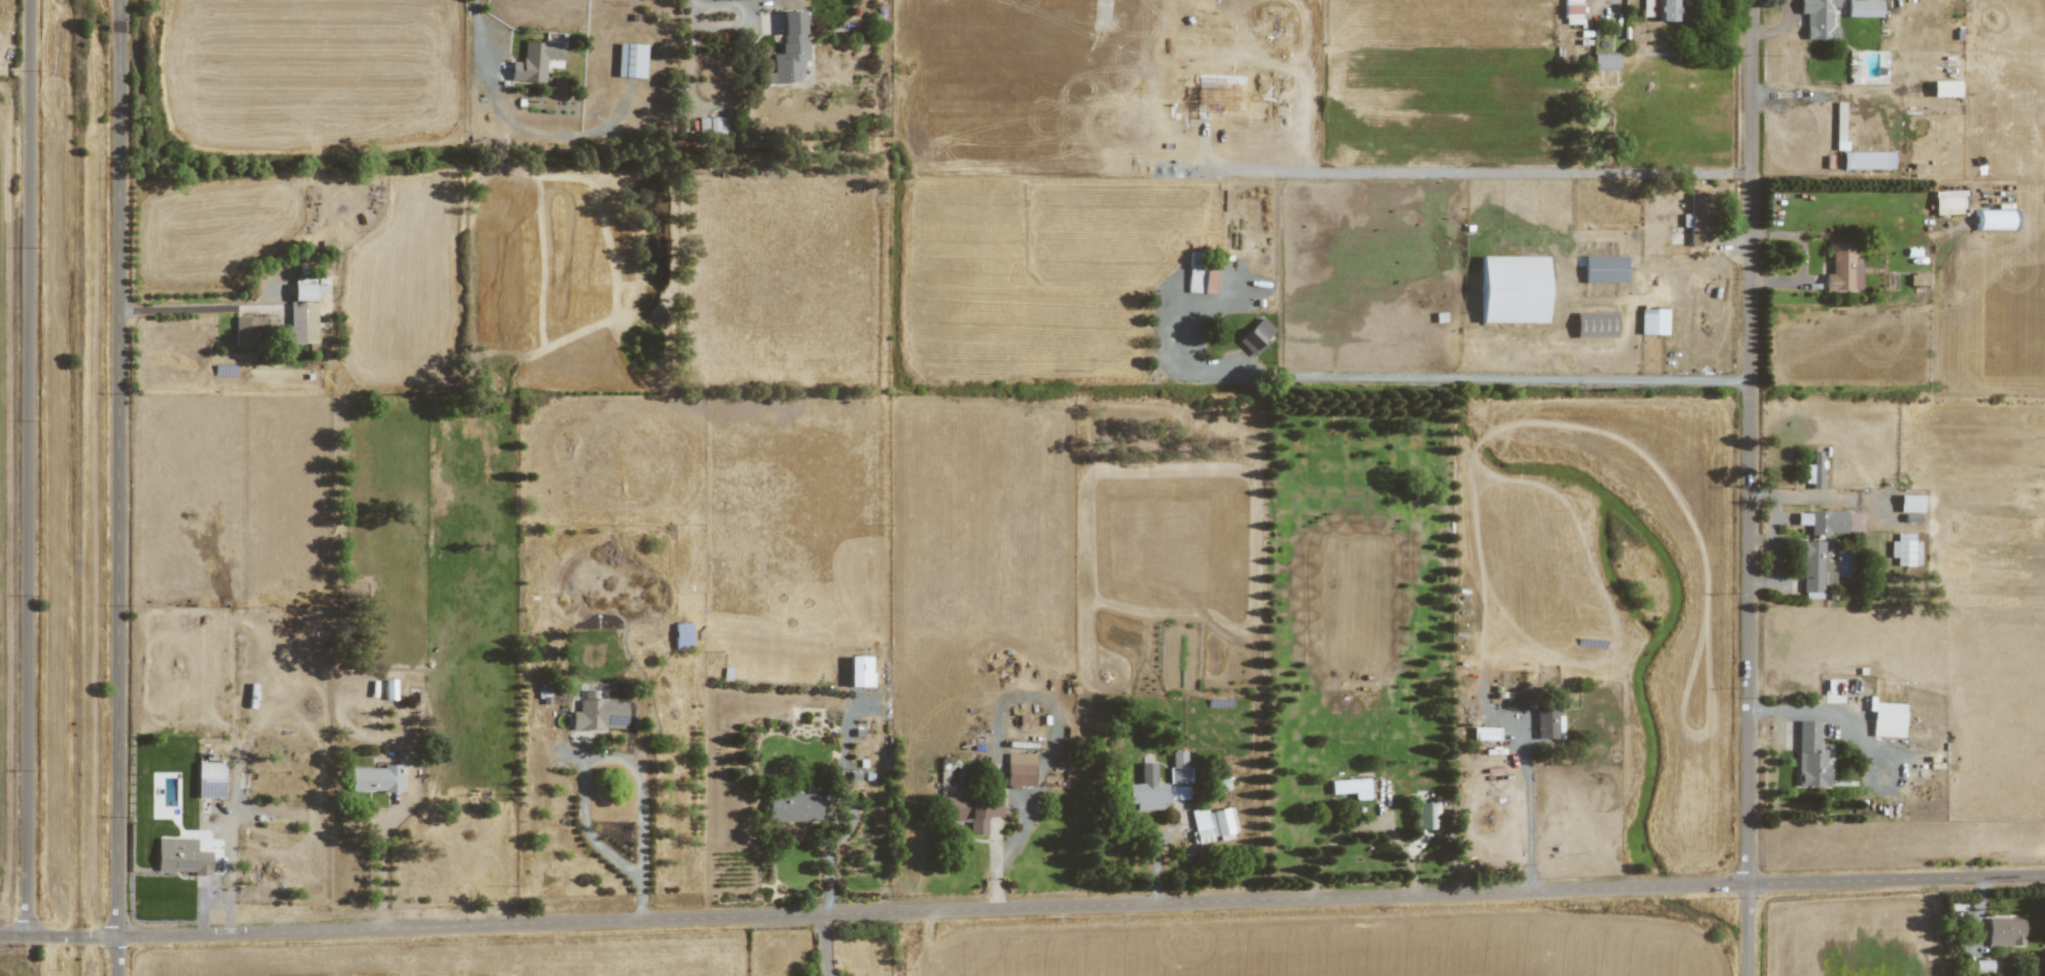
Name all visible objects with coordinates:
road: (761, 1)
building: (1863, 8)
road: (1597, 9)
building: (1660, 9)
building: (1572, 11)
road: (746, 16)
building: (1818, 19)
road: (1783, 27)
road: (478, 36)
road: (1700, 42)
road: (1925, 46)
building: (789, 49)
building: (630, 60)
building: (534, 61)
building: (1603, 61)
road: (693, 76)
building: (1944, 88)
building: (713, 126)
building: (1839, 131)
building: (1867, 160)
building: (1699, 217)
road: (1804, 256)
building: (1604, 269)
building: (1843, 269)
road: (1719, 270)
building: (1200, 274)
building: (1513, 289)
building: (303, 291)
road: (552, 291)
road: (171, 311)
building: (1653, 321)
building: (301, 323)
building: (1595, 324)
building: (249, 331)
building: (1255, 336)
road: (1709, 341)
road: (1422, 376)
road: (1750, 442)
road: (29, 467)
building: (1813, 470)
road: (120, 488)
road: (1818, 496)
building: (1910, 503)
building: (1911, 517)
building: (1830, 521)
road: (1776, 541)
building: (1905, 549)
building: (1814, 569)
road: (1760, 581)
building: (682, 635)
building: (858, 671)
building: (1514, 700)
building: (599, 712)
building: (1886, 716)
road: (1832, 720)
building: (1548, 723)
building: (1485, 733)
building: (1810, 756)
road: (848, 769)
building: (1019, 769)
road: (235, 777)
building: (210, 779)
building: (375, 779)
building: (1350, 787)
road: (640, 788)
building: (1153, 790)
road: (1023, 797)
road: (1530, 803)
building: (794, 807)
building: (973, 809)
building: (1426, 815)
road: (214, 817)
road: (1394, 819)
road: (1028, 823)
building: (1223, 823)
building: (1200, 825)
road: (1366, 827)
road: (848, 830)
road: (590, 832)
road: (383, 834)
road: (997, 840)
road: (830, 846)
road: (231, 847)
road: (1157, 848)
building: (182, 856)
road: (203, 901)
road: (1022, 908)
road: (1950, 923)
road: (1750, 930)
building: (2005, 931)
road: (1985, 934)
road: (825, 945)
road: (1972, 957)
building: (1983, 966)

